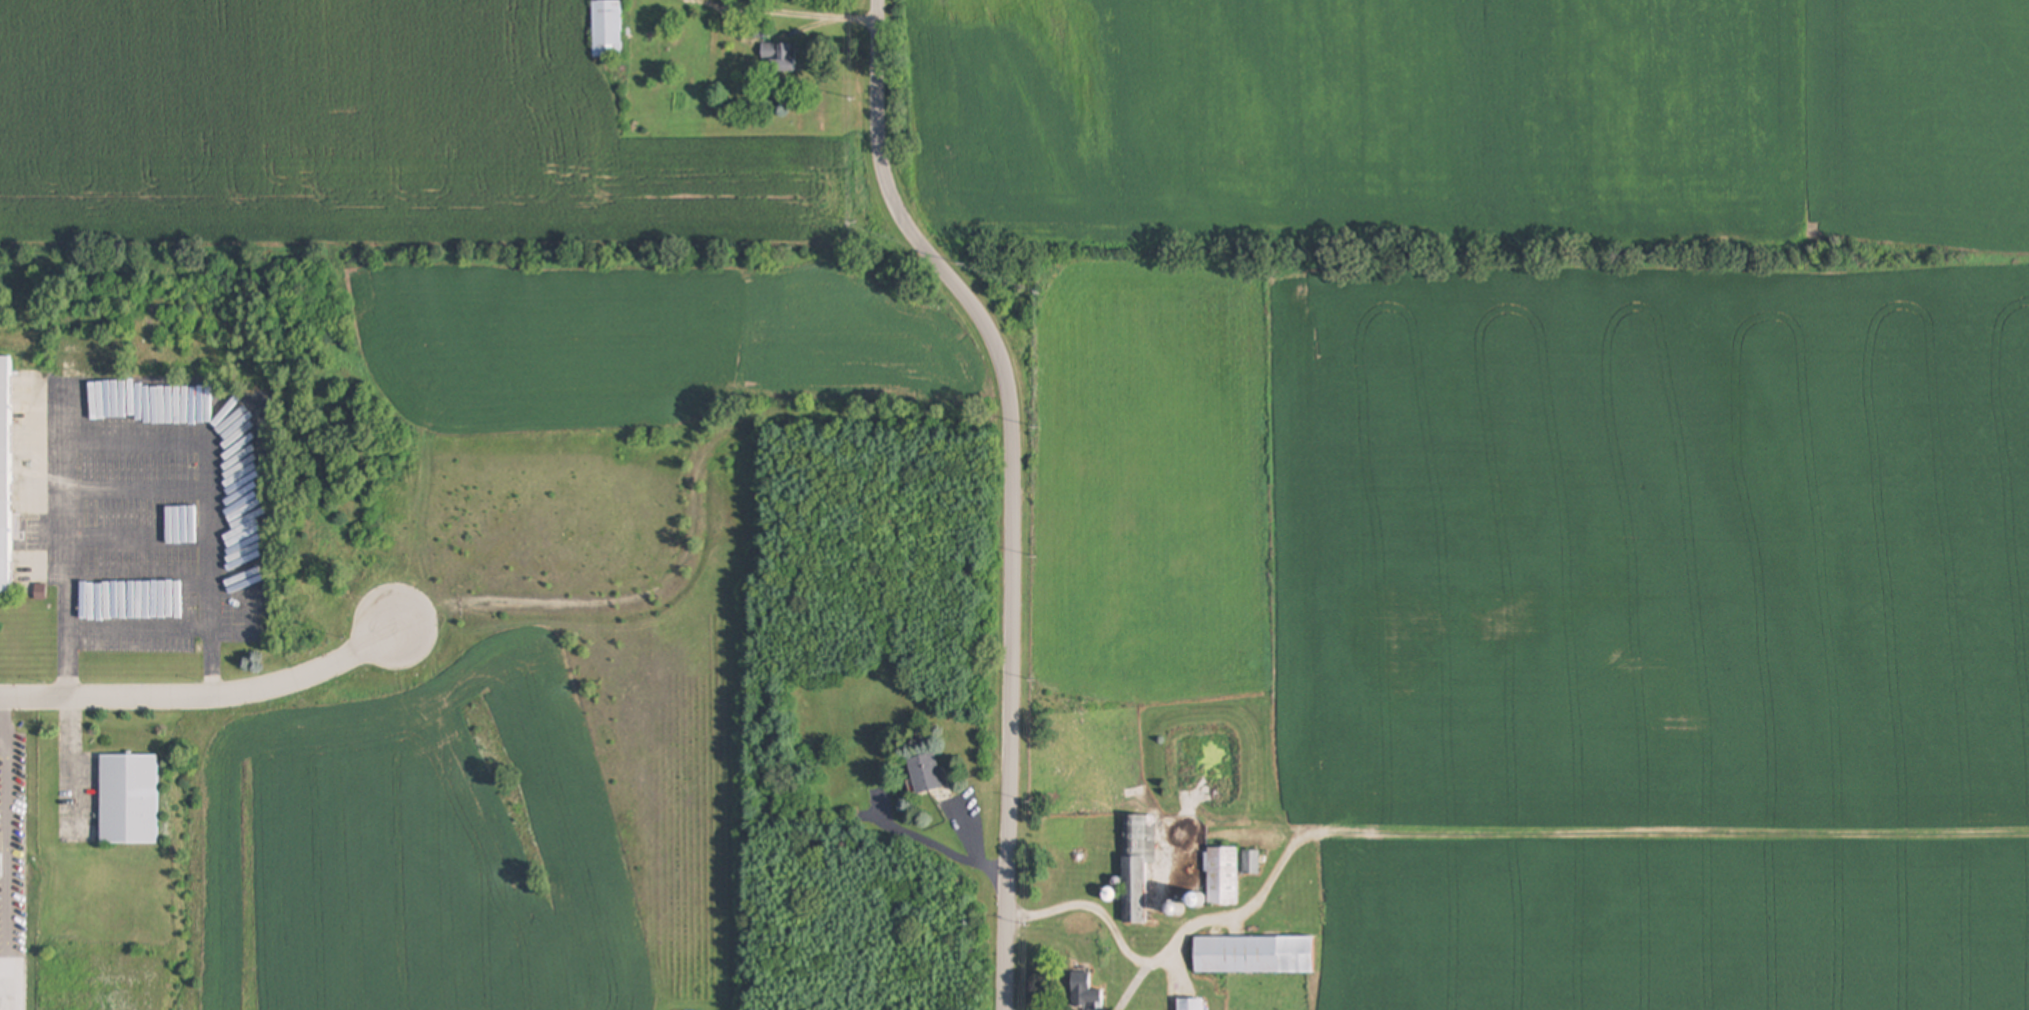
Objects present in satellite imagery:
road: (792, 13)
building: (606, 29)
building: (778, 59)
road: (877, 139)
road: (134, 401)
building: (4, 475)
road: (1014, 625)
road: (207, 695)
road: (4, 744)
road: (73, 761)
building: (926, 774)
building: (129, 800)
road: (1558, 828)
road: (9, 861)
building: (1251, 863)
building: (1137, 865)
building: (1221, 876)
road: (1092, 903)
building: (1254, 956)
road: (1133, 988)
building: (1084, 993)
building: (1191, 1005)

